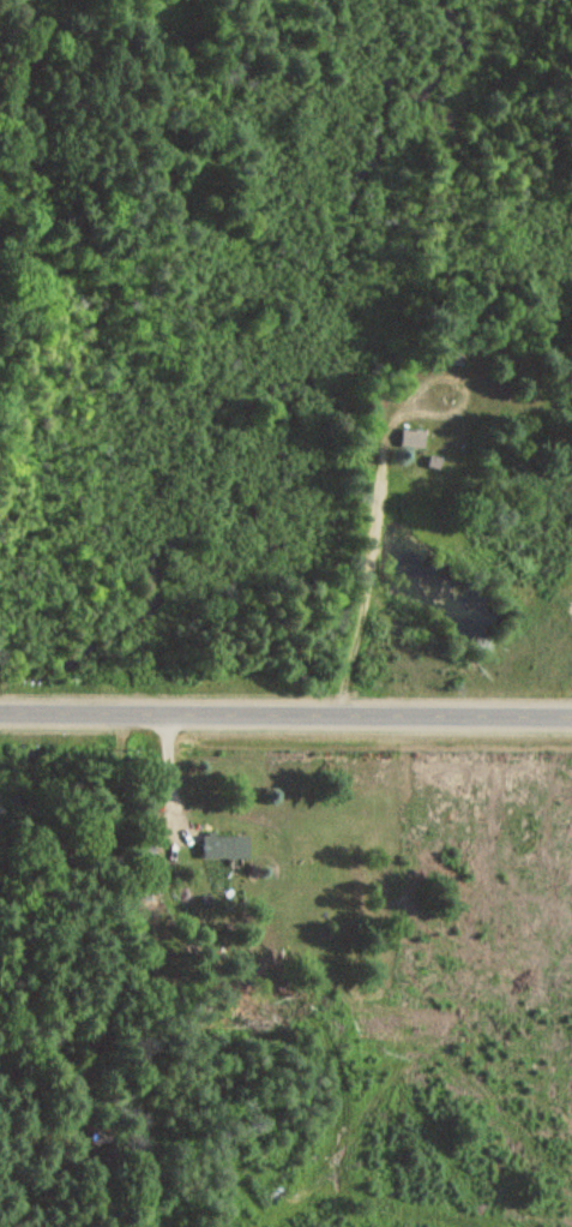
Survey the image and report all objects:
building: (414, 439)
road: (285, 718)
building: (222, 848)

